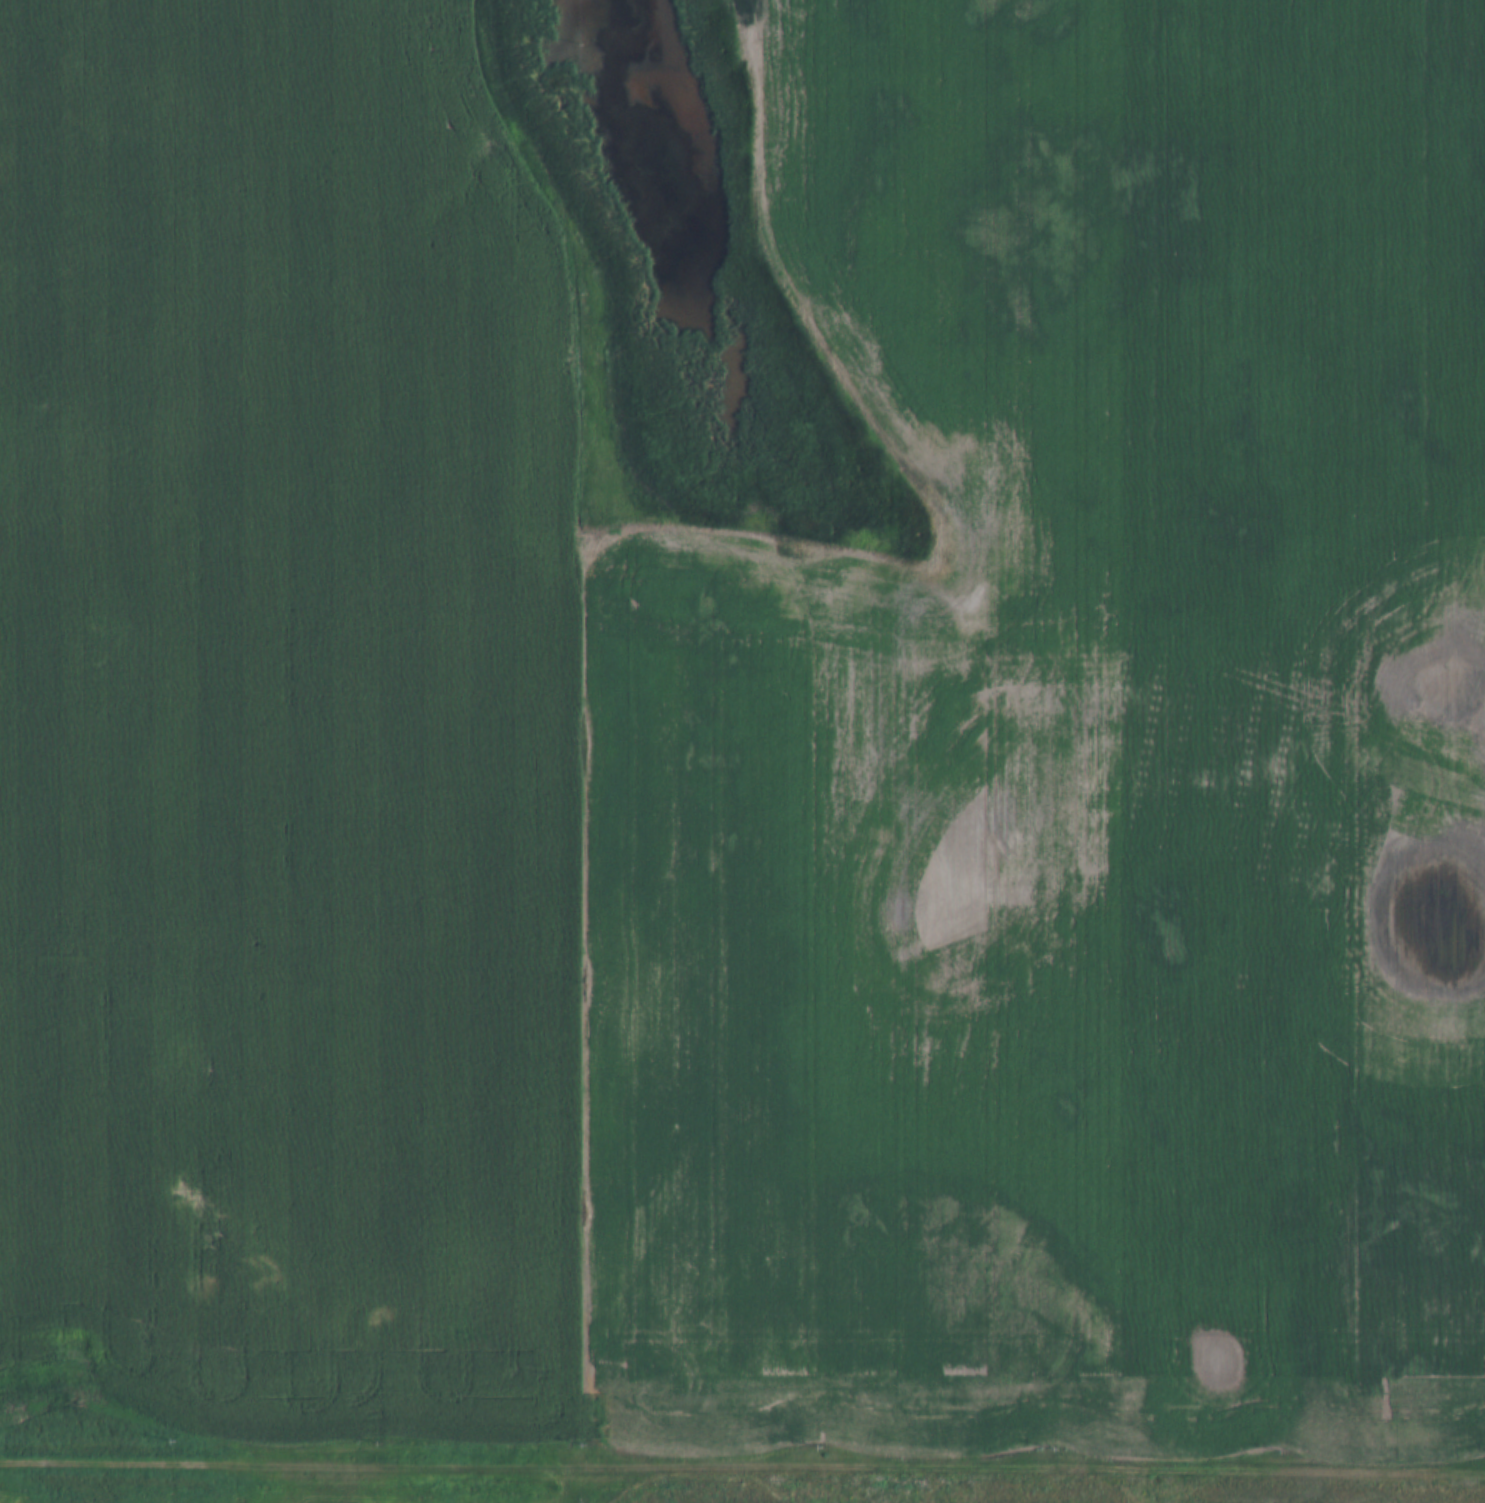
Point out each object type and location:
road: (742, 1463)

